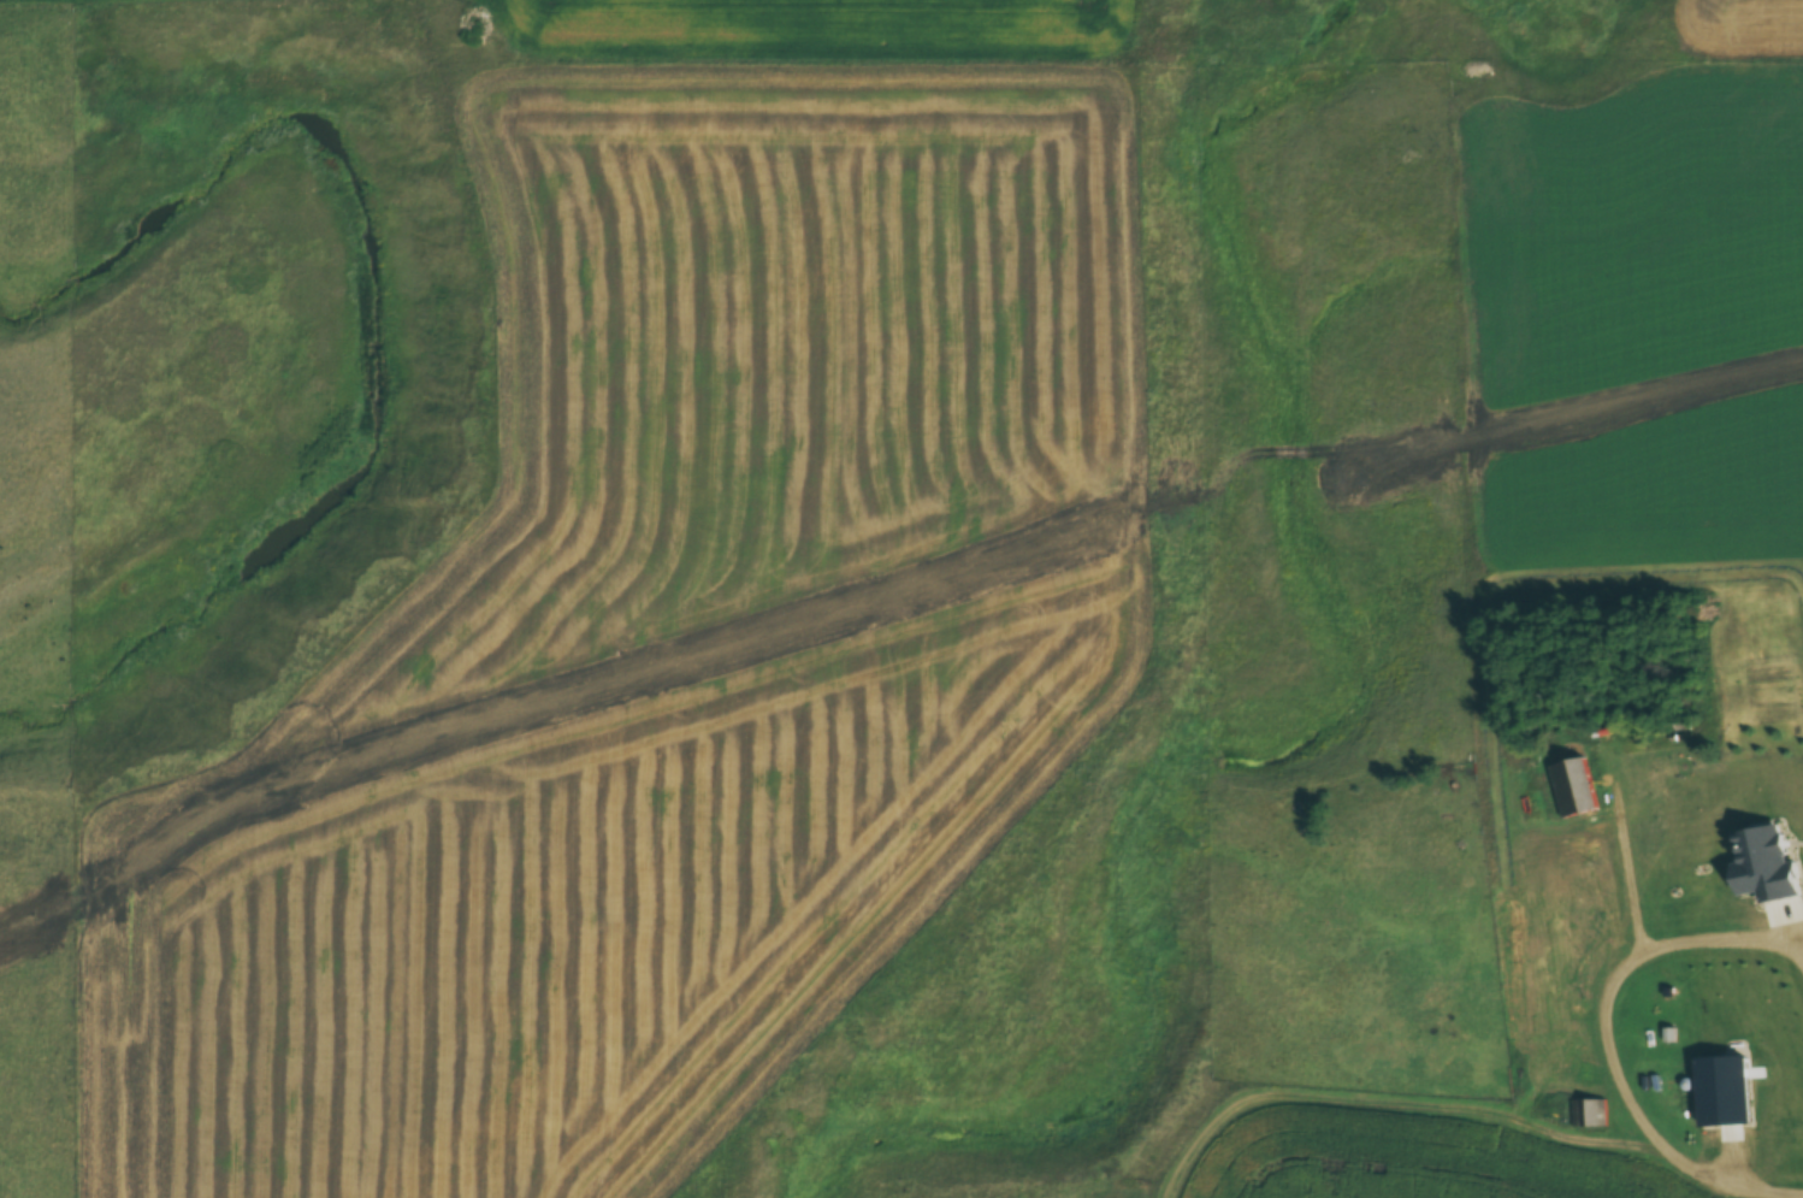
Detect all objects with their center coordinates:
building: (1577, 790)
building: (1695, 793)
building: (1654, 986)
building: (1721, 1100)
building: (1586, 1114)

